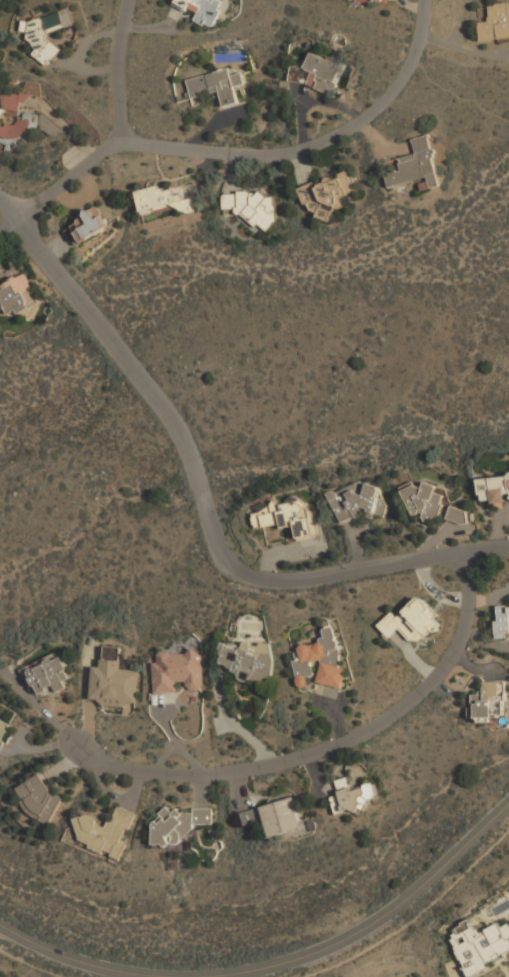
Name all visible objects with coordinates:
building: (366, 1)
building: (202, 9)
building: (496, 23)
building: (48, 31)
road: (118, 70)
building: (317, 73)
building: (217, 84)
building: (19, 96)
building: (19, 128)
road: (236, 149)
building: (415, 165)
building: (188, 192)
building: (328, 194)
building: (160, 200)
road: (7, 205)
building: (251, 206)
building: (87, 225)
building: (17, 295)
building: (494, 490)
building: (426, 501)
building: (357, 502)
road: (203, 508)
building: (457, 515)
building: (287, 516)
building: (412, 620)
building: (502, 620)
building: (322, 659)
building: (249, 660)
building: (177, 671)
building: (47, 675)
building: (114, 679)
building: (490, 702)
building: (4, 732)
road: (327, 745)
building: (352, 797)
building: (41, 799)
building: (275, 816)
building: (179, 824)
building: (105, 831)
road: (413, 915)
building: (480, 944)
road: (276, 964)
road: (30, 965)

